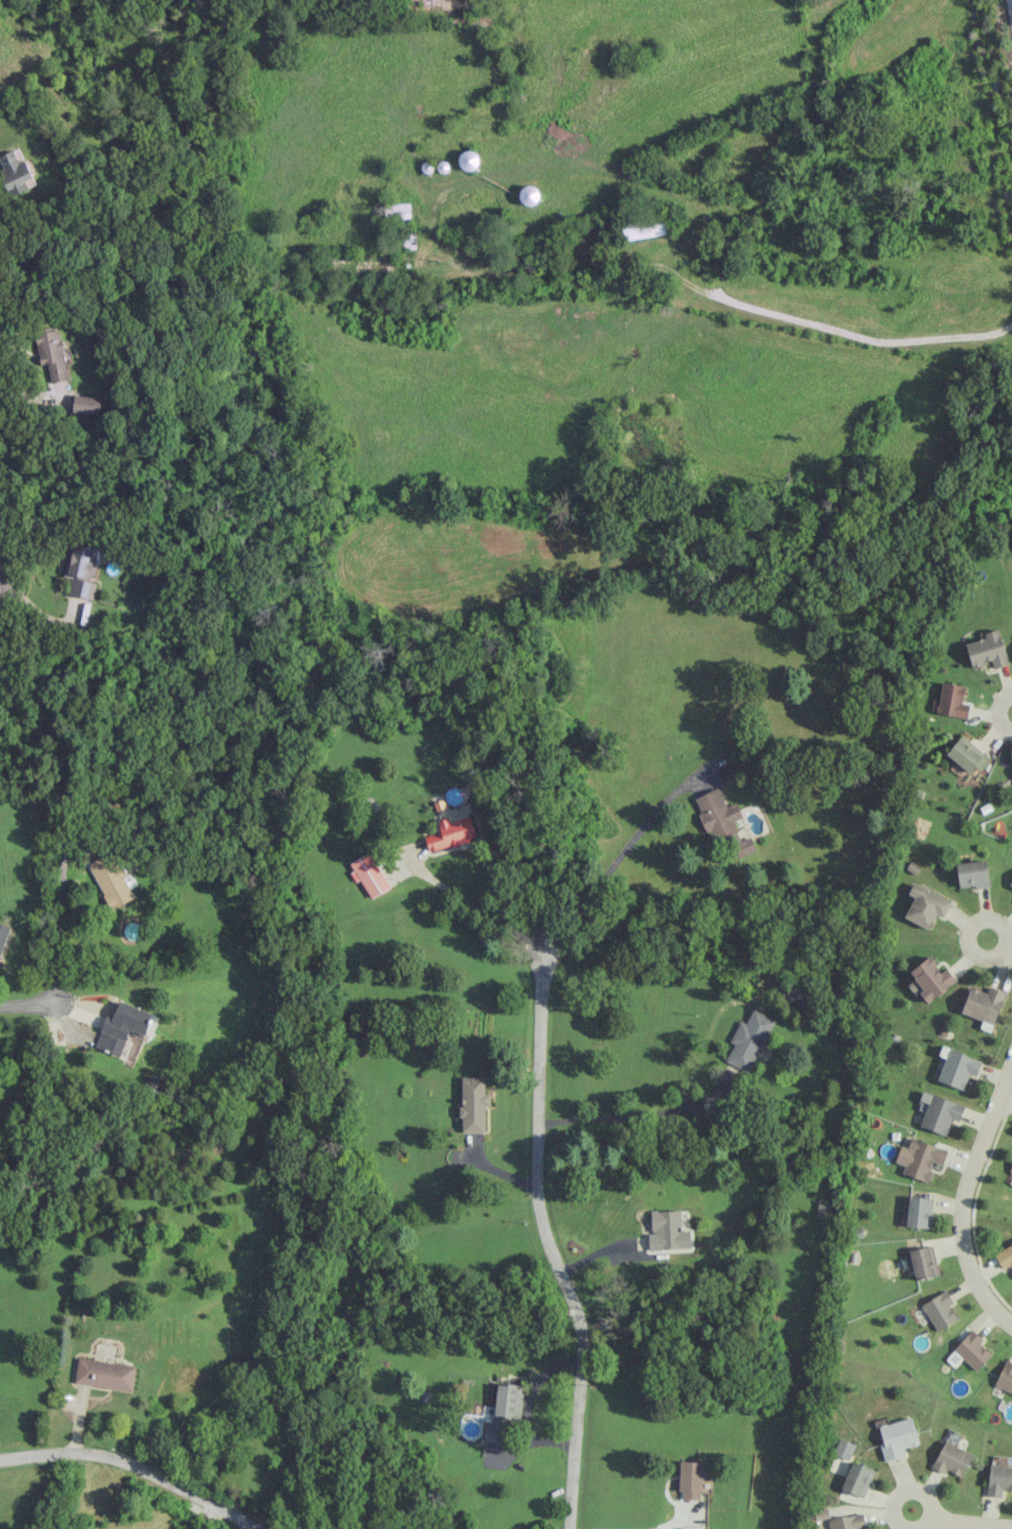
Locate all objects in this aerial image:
road: (1011, 4)
building: (468, 160)
building: (15, 172)
building: (528, 195)
building: (396, 211)
building: (646, 226)
road: (685, 280)
building: (52, 353)
building: (87, 404)
building: (82, 571)
road: (41, 611)
building: (987, 650)
building: (952, 700)
road: (998, 711)
building: (966, 755)
building: (1011, 770)
building: (722, 823)
building: (451, 833)
road: (612, 866)
building: (369, 874)
building: (972, 874)
building: (110, 880)
building: (1011, 882)
road: (60, 904)
building: (925, 906)
road: (481, 910)
road: (990, 919)
building: (3, 935)
road: (1009, 946)
building: (931, 978)
building: (792, 991)
road: (26, 1002)
building: (983, 1006)
building: (124, 1026)
building: (748, 1039)
building: (957, 1067)
road: (1005, 1099)
building: (473, 1104)
building: (938, 1112)
road: (642, 1114)
building: (919, 1158)
building: (1011, 1170)
road: (964, 1199)
building: (919, 1212)
building: (668, 1231)
road: (546, 1238)
road: (604, 1249)
building: (1004, 1257)
building: (924, 1262)
building: (939, 1310)
building: (972, 1350)
building: (105, 1374)
building: (1005, 1377)
building: (504, 1412)
building: (897, 1438)
building: (843, 1448)
building: (952, 1459)
road: (134, 1467)
building: (857, 1479)
building: (690, 1480)
building: (999, 1480)
road: (910, 1490)
building: (820, 1514)
building: (848, 1522)
road: (965, 1523)
road: (675, 1525)
road: (243, 1526)

